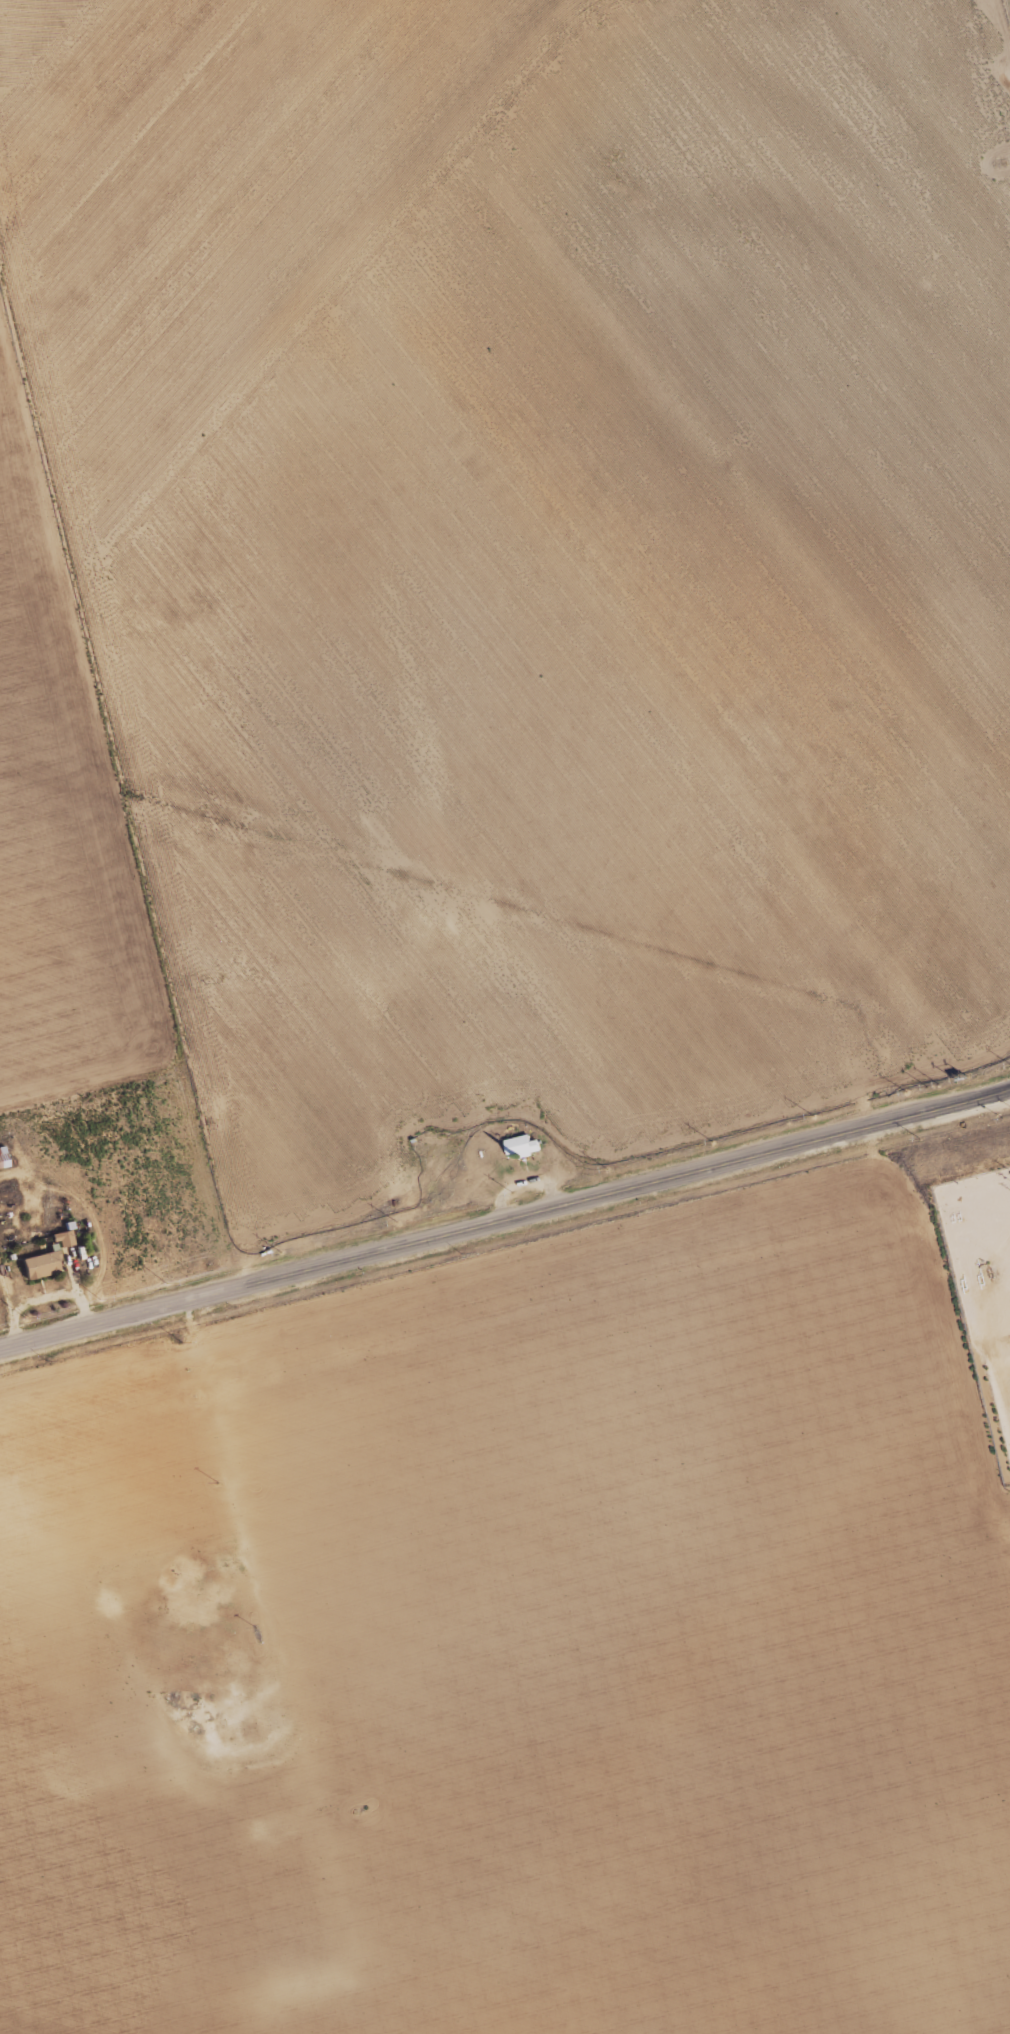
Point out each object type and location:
building: (521, 1145)
building: (3, 1156)
road: (505, 1220)
building: (66, 1238)
building: (41, 1265)
building: (190, 1574)

